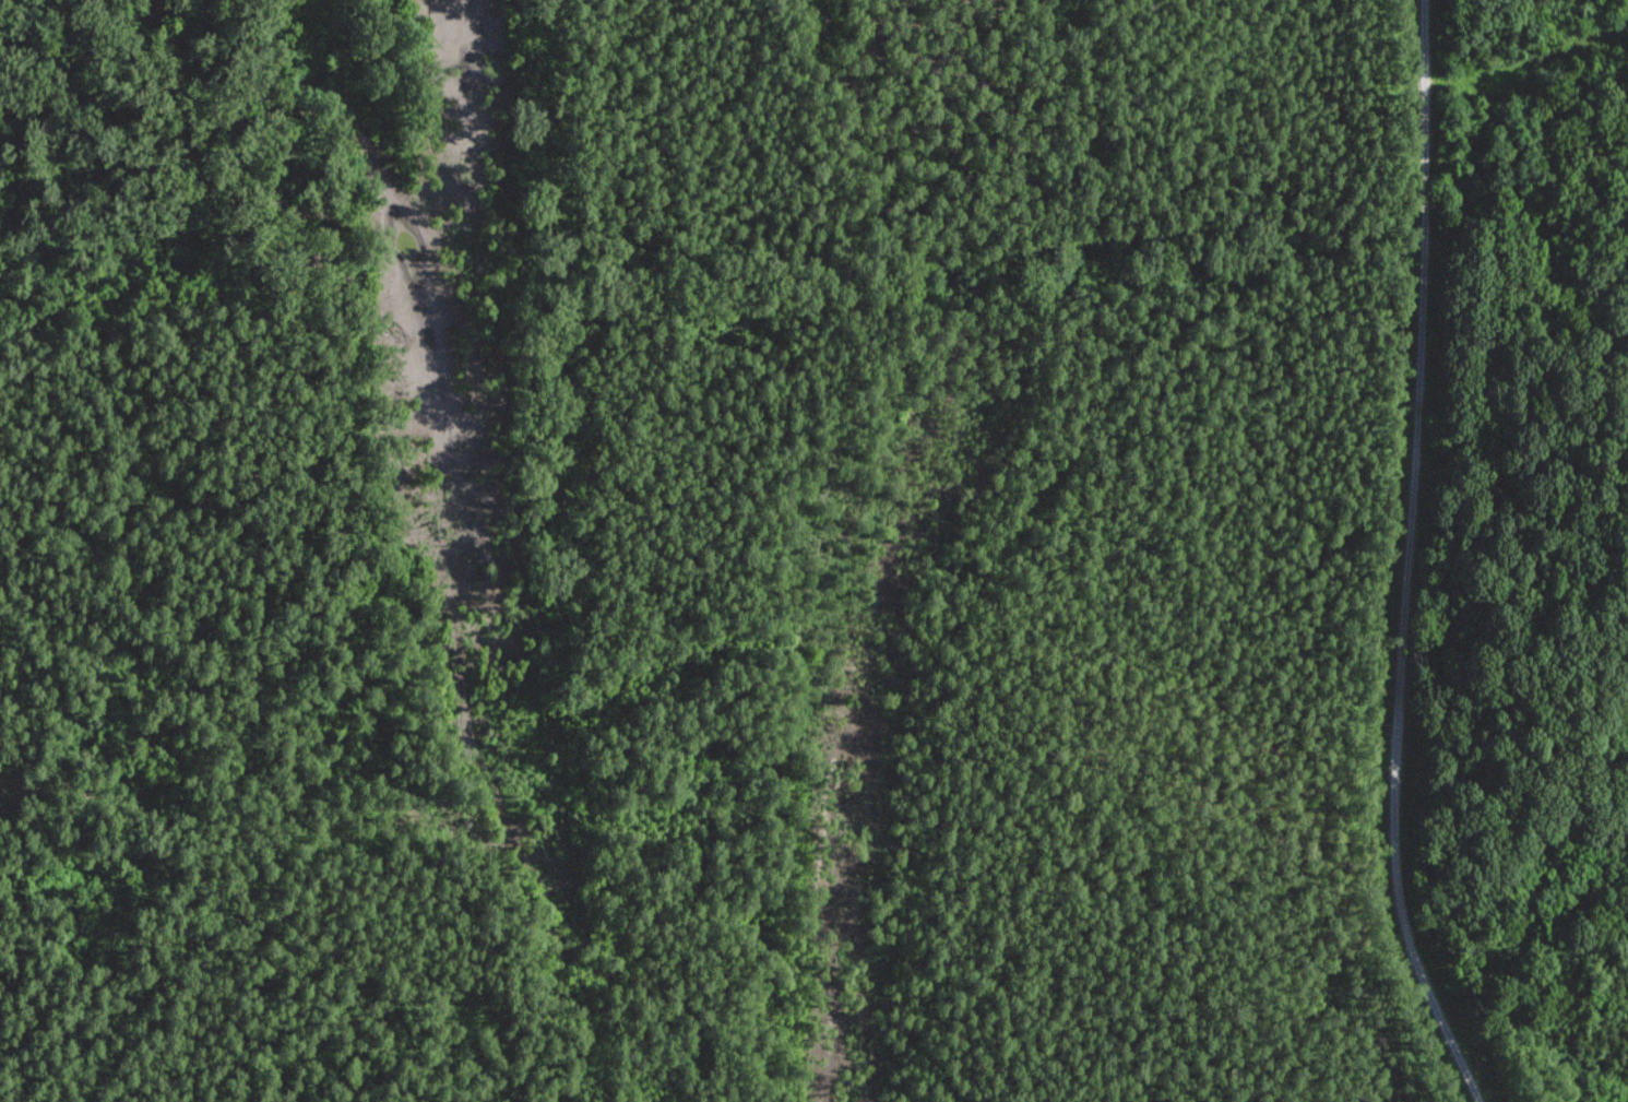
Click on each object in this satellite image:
road: (1413, 559)

